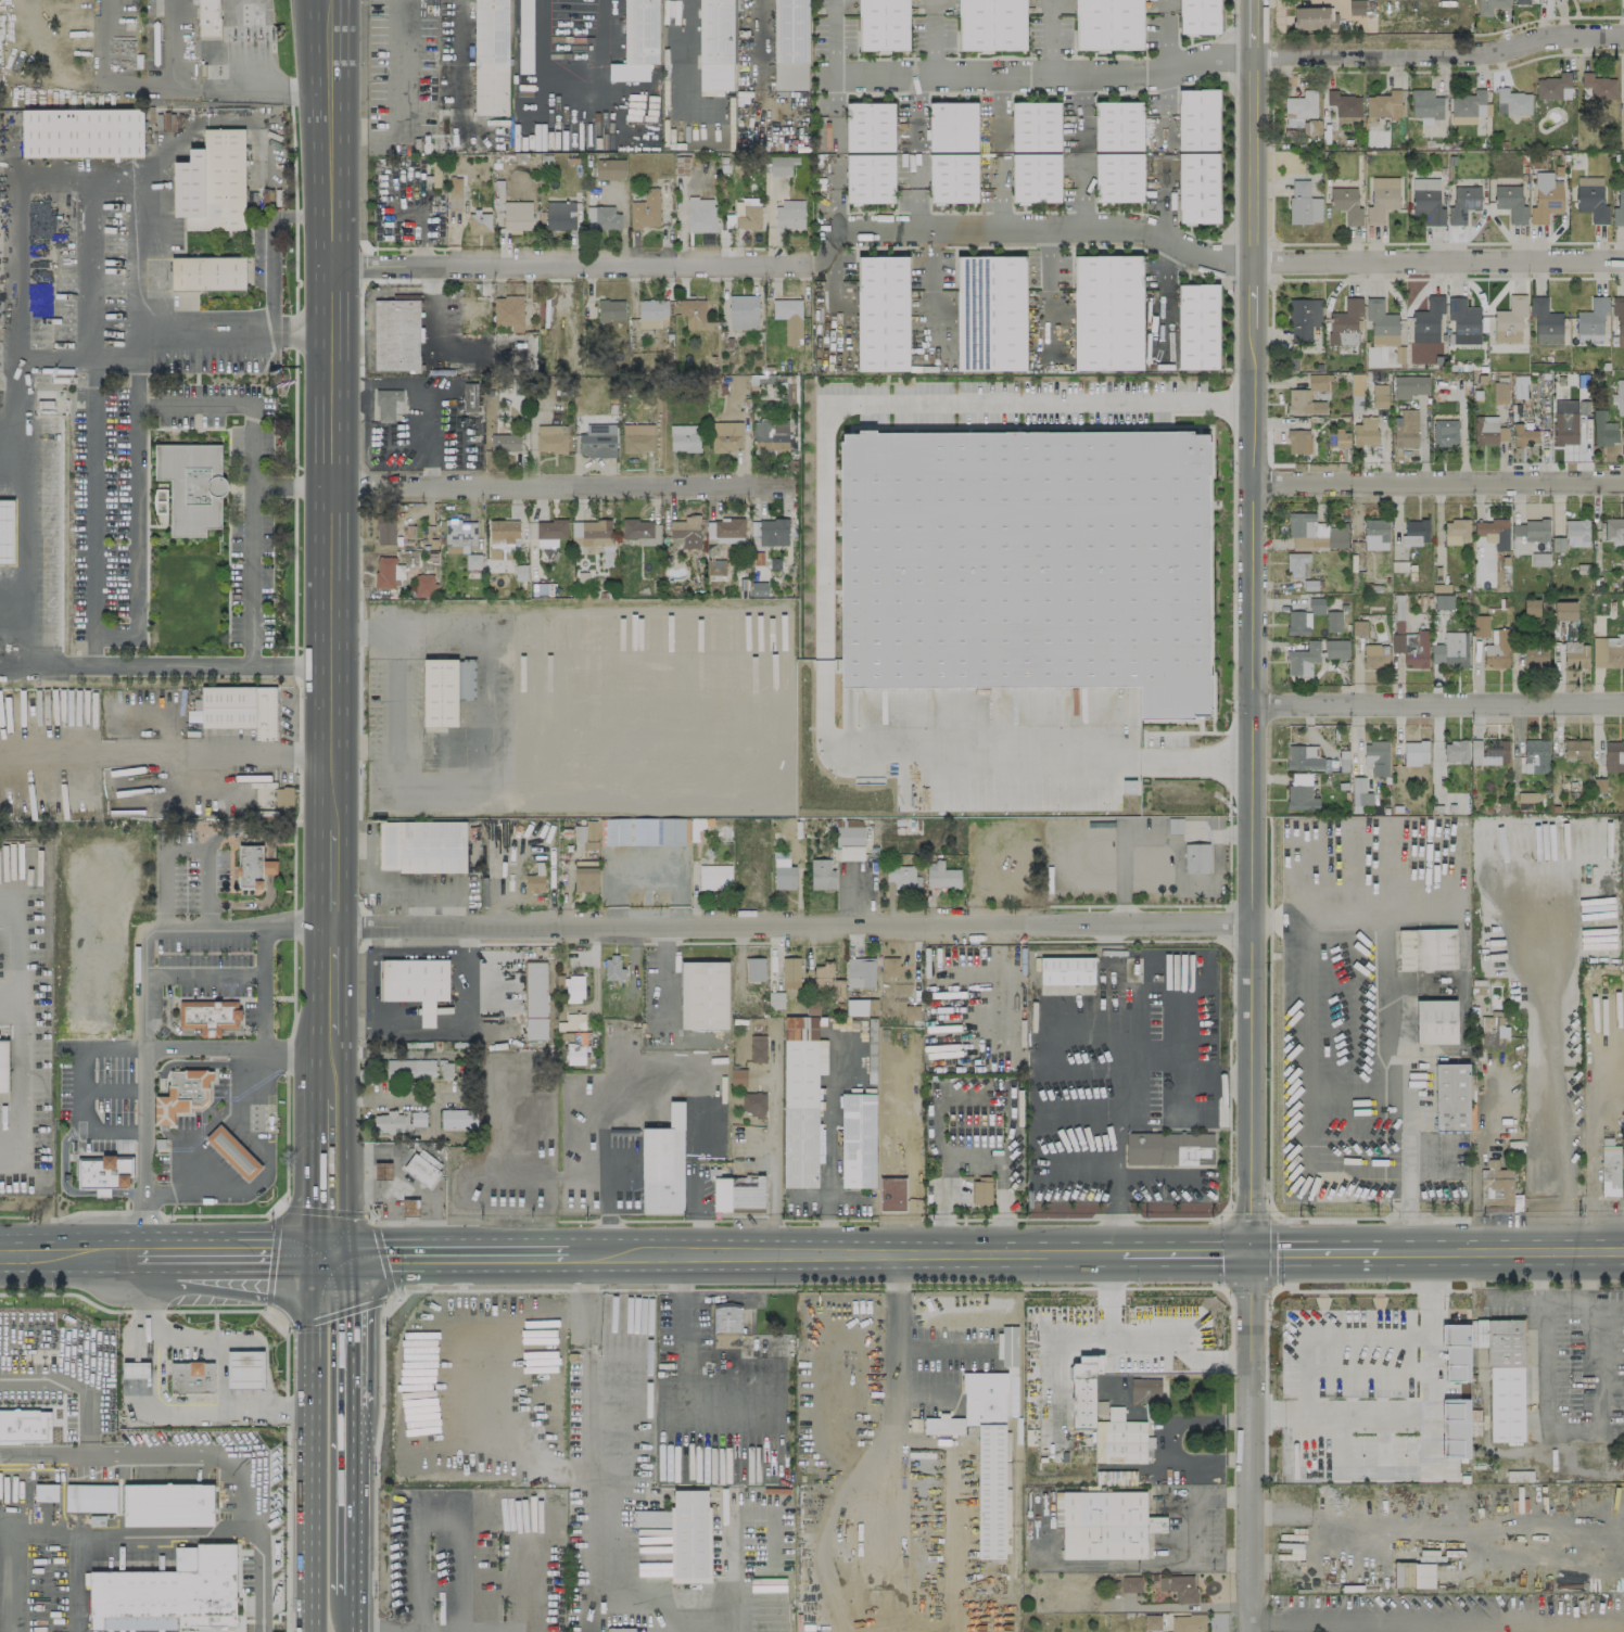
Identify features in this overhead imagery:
building: (1521, 1)
building: (1489, 5)
building: (1355, 7)
building: (208, 15)
building: (1198, 16)
road: (1234, 17)
building: (1314, 17)
building: (990, 24)
building: (883, 25)
building: (1107, 25)
road: (1164, 31)
building: (524, 36)
road: (928, 36)
road: (1045, 36)
building: (637, 41)
road: (110, 42)
road: (178, 43)
road: (1193, 43)
building: (715, 44)
building: (790, 44)
road: (1165, 51)
road: (1442, 55)
building: (490, 56)
road: (1230, 58)
road: (1008, 73)
road: (570, 75)
road: (97, 84)
road: (258, 85)
building: (1598, 86)
building: (1553, 87)
road: (1165, 88)
building: (1623, 97)
road: (1163, 101)
building: (1512, 102)
building: (1344, 103)
building: (1469, 103)
road: (1165, 105)
building: (1383, 105)
building: (1425, 105)
building: (1299, 109)
road: (1234, 118)
building: (1197, 119)
building: (1035, 125)
building: (868, 126)
building: (952, 126)
building: (1117, 126)
building: (1310, 126)
road: (313, 129)
road: (339, 129)
building: (81, 132)
building: (779, 166)
building: (610, 168)
building: (1117, 176)
building: (870, 178)
building: (953, 178)
building: (1036, 178)
building: (211, 182)
building: (454, 188)
building: (1197, 188)
building: (1545, 197)
building: (1382, 199)
building: (1591, 199)
building: (1426, 200)
road: (1164, 201)
building: (1304, 203)
building: (1462, 203)
building: (1510, 203)
building: (1346, 204)
building: (1619, 208)
building: (646, 209)
road: (296, 214)
building: (700, 214)
building: (748, 214)
building: (789, 214)
building: (560, 215)
building: (517, 216)
building: (601, 218)
road: (1166, 221)
building: (480, 222)
road: (1049, 227)
road: (1203, 239)
road: (1048, 255)
road: (932, 256)
road: (1439, 257)
road: (20, 258)
road: (1164, 259)
road: (1229, 259)
road: (564, 264)
building: (206, 273)
road: (269, 273)
road: (1164, 297)
building: (473, 308)
building: (610, 309)
building: (508, 311)
building: (743, 311)
building: (1107, 311)
road: (1233, 311)
road: (430, 313)
building: (651, 313)
building: (693, 313)
building: (990, 313)
building: (883, 314)
building: (789, 318)
building: (1304, 318)
building: (1619, 318)
building: (1509, 319)
building: (1428, 320)
building: (1590, 320)
building: (1463, 321)
building: (1345, 322)
building: (1545, 322)
building: (1381, 323)
building: (1196, 327)
road: (232, 333)
building: (396, 334)
building: (1317, 382)
road: (431, 383)
building: (1409, 386)
building: (1356, 392)
building: (1499, 392)
building: (1380, 395)
building: (1619, 397)
road: (93, 403)
road: (1227, 403)
building: (1303, 403)
road: (1170, 412)
building: (1565, 422)
building: (1406, 429)
building: (1603, 429)
building: (1365, 431)
building: (1487, 431)
building: (770, 435)
building: (1523, 435)
building: (725, 436)
building: (1444, 436)
building: (550, 437)
building: (637, 437)
building: (684, 437)
building: (1338, 437)
building: (597, 439)
building: (1298, 441)
building: (504, 443)
road: (1439, 483)
road: (556, 484)
building: (191, 485)
building: (724, 530)
building: (1456, 530)
building: (1531, 530)
building: (1614, 530)
building: (384, 531)
building: (642, 531)
building: (686, 531)
building: (7, 532)
building: (459, 532)
building: (549, 532)
building: (591, 532)
building: (773, 532)
building: (1414, 532)
building: (1493, 532)
building: (1315, 533)
building: (1576, 533)
building: (1375, 534)
building: (500, 537)
road: (330, 540)
road: (137, 556)
road: (1209, 558)
building: (1538, 559)
building: (1026, 562)
building: (1295, 563)
building: (472, 565)
building: (386, 571)
road: (248, 575)
road: (823, 583)
building: (424, 584)
building: (1443, 601)
building: (1316, 605)
building: (1531, 607)
building: (1564, 610)
building: (1333, 621)
building: (1297, 623)
road: (1255, 625)
building: (1480, 625)
building: (1358, 627)
road: (465, 634)
building: (1414, 649)
building: (1450, 650)
building: (1497, 651)
building: (1608, 652)
building: (1535, 654)
building: (1575, 654)
building: (1314, 655)
building: (1375, 655)
building: (446, 689)
road: (299, 703)
road: (1439, 703)
building: (240, 709)
building: (193, 712)
road: (1196, 731)
road: (166, 750)
building: (1575, 750)
building: (1456, 751)
building: (1488, 751)
building: (1414, 752)
road: (678, 755)
building: (1535, 755)
building: (1613, 755)
building: (1375, 756)
building: (1304, 757)
road: (1228, 761)
building: (1359, 791)
building: (1301, 793)
building: (849, 839)
road: (190, 843)
building: (421, 846)
building: (1196, 857)
building: (585, 864)
building: (250, 867)
building: (269, 867)
building: (783, 871)
building: (822, 874)
road: (330, 876)
building: (941, 876)
building: (714, 877)
building: (902, 877)
building: (585, 879)
road: (492, 891)
road: (1192, 905)
road: (9, 916)
road: (790, 921)
road: (1230, 922)
building: (1426, 948)
road: (18, 965)
building: (890, 967)
building: (613, 968)
building: (754, 968)
building: (1066, 970)
building: (860, 971)
building: (790, 972)
road: (211, 977)
road: (332, 978)
building: (827, 980)
building: (570, 986)
building: (703, 995)
building: (1606, 998)
building: (775, 999)
building: (534, 1000)
road: (151, 1002)
building: (861, 1007)
building: (812, 1008)
road: (9, 1012)
building: (207, 1016)
road: (270, 1017)
building: (1588, 1019)
building: (1435, 1021)
building: (572, 1022)
building: (1493, 1031)
road: (211, 1041)
building: (757, 1047)
road: (334, 1053)
building: (575, 1053)
road: (1171, 1054)
road: (1553, 1064)
building: (3, 1066)
building: (419, 1068)
building: (738, 1076)
road: (659, 1086)
road: (84, 1087)
road: (334, 1087)
road: (1327, 1091)
road: (18, 1096)
building: (1451, 1096)
road: (405, 1098)
building: (801, 1101)
building: (896, 1101)
building: (175, 1105)
building: (753, 1105)
road: (1228, 1115)
building: (457, 1118)
road: (1268, 1119)
building: (397, 1121)
building: (858, 1140)
road: (834, 1145)
building: (1168, 1148)
building: (232, 1152)
road: (975, 1153)
road: (1475, 1155)
road: (1119, 1156)
road: (773, 1158)
road: (272, 1162)
building: (663, 1164)
building: (103, 1174)
road: (330, 1176)
building: (1500, 1188)
building: (981, 1190)
building: (721, 1193)
building: (892, 1194)
building: (748, 1196)
road: (368, 1213)
road: (658, 1220)
road: (1120, 1226)
road: (1315, 1250)
road: (1499, 1250)
road: (918, 1251)
road: (975, 1251)
road: (1063, 1251)
road: (1188, 1251)
road: (1272, 1251)
road: (405, 1252)
road: (511, 1252)
road: (716, 1252)
road: (246, 1253)
road: (134, 1254)
traffic signals: (329, 1254)
road: (52, 1255)
road: (842, 1288)
road: (1368, 1290)
building: (726, 1327)
road: (350, 1328)
road: (225, 1336)
road: (1066, 1340)
road: (893, 1342)
road: (214, 1343)
building: (1007, 1346)
road: (1177, 1351)
building: (1456, 1351)
building: (135, 1369)
building: (246, 1369)
road: (682, 1372)
building: (1504, 1376)
building: (1144, 1390)
road: (164, 1403)
road: (1422, 1412)
building: (25, 1425)
building: (1455, 1427)
road: (1571, 1430)
road: (347, 1431)
road: (286, 1435)
building: (1120, 1439)
road: (1172, 1439)
road: (308, 1441)
road: (1253, 1441)
building: (985, 1448)
road: (129, 1450)
road: (591, 1471)
building: (46, 1492)
building: (90, 1497)
building: (167, 1504)
building: (1104, 1525)
road: (347, 1527)
road: (183, 1528)
building: (689, 1537)
building: (1413, 1574)
building: (1130, 1583)
building: (1179, 1586)
building: (170, 1592)
road: (347, 1614)
road: (1366, 1618)
building: (1152, 1622)
building: (1188, 1622)
road: (268, 1628)
building: (620, 1630)
road: (390, 1631)
road: (433, 1631)
road: (469, 1631)

